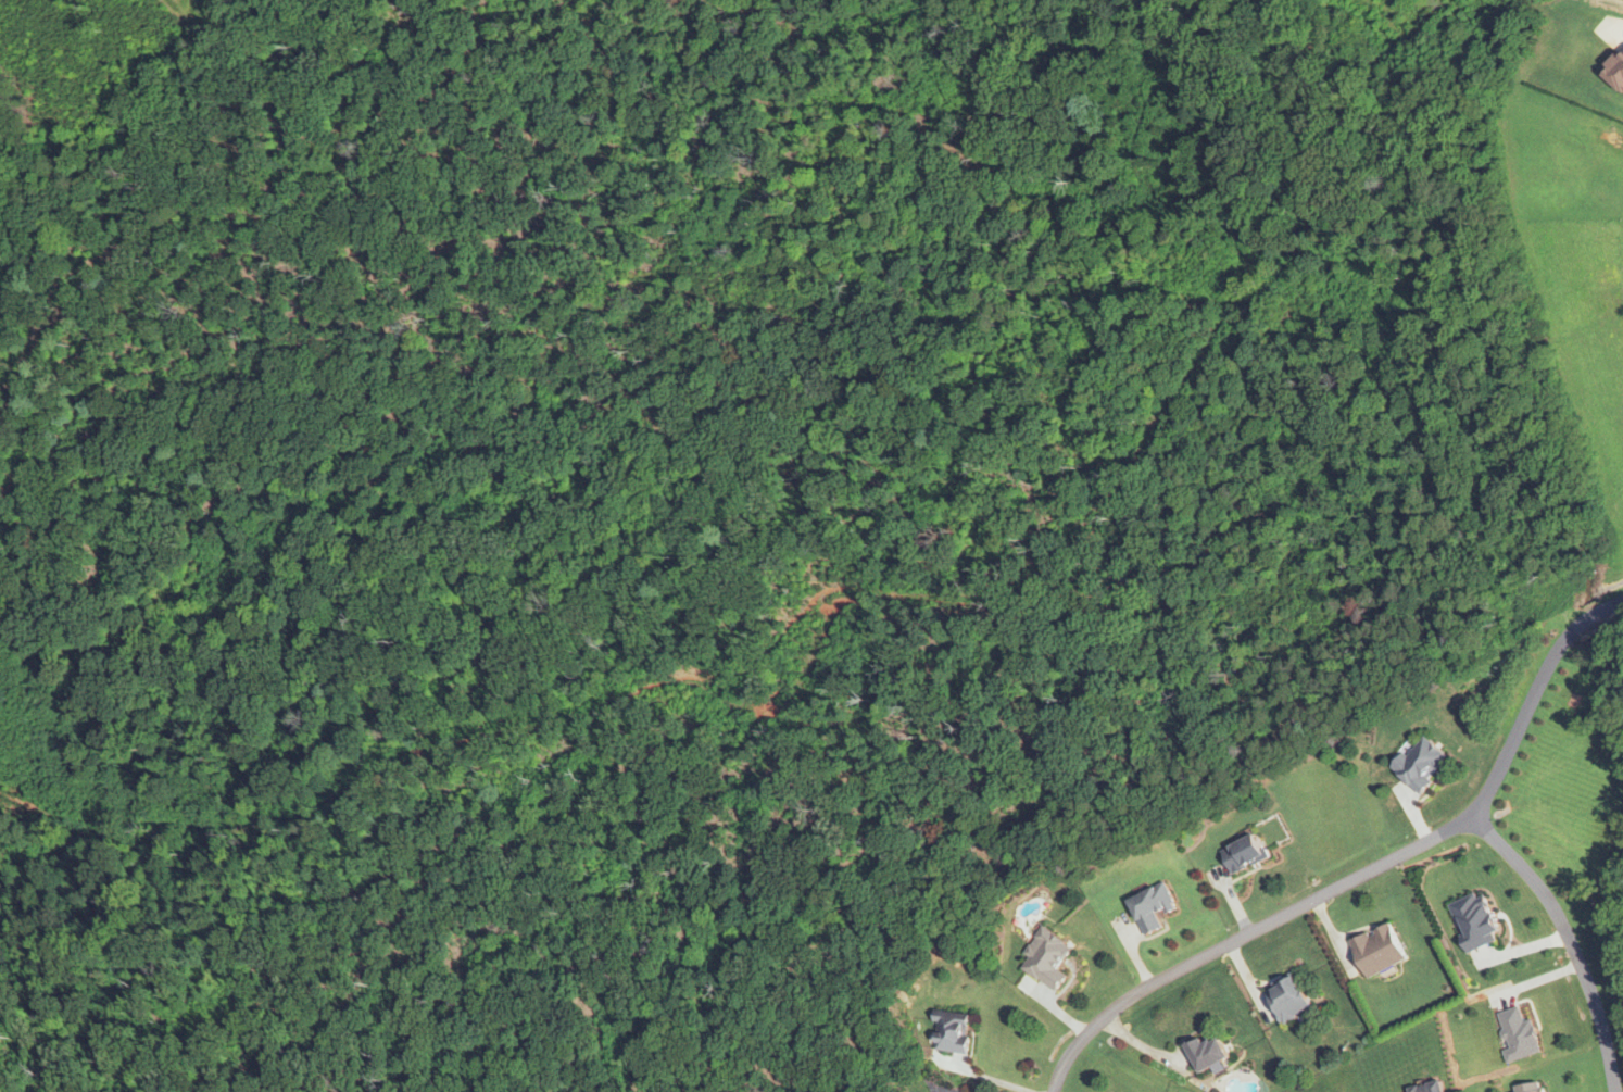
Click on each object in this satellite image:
building: (1421, 763)
building: (1245, 854)
road: (1364, 874)
building: (1152, 908)
building: (1474, 921)
road: (1569, 939)
building: (1379, 950)
building: (1046, 958)
building: (1289, 1000)
building: (952, 1031)
building: (1518, 1034)
building: (1208, 1052)
road: (989, 1077)
building: (1427, 1088)
building: (1527, 1088)
road: (940, 1090)

